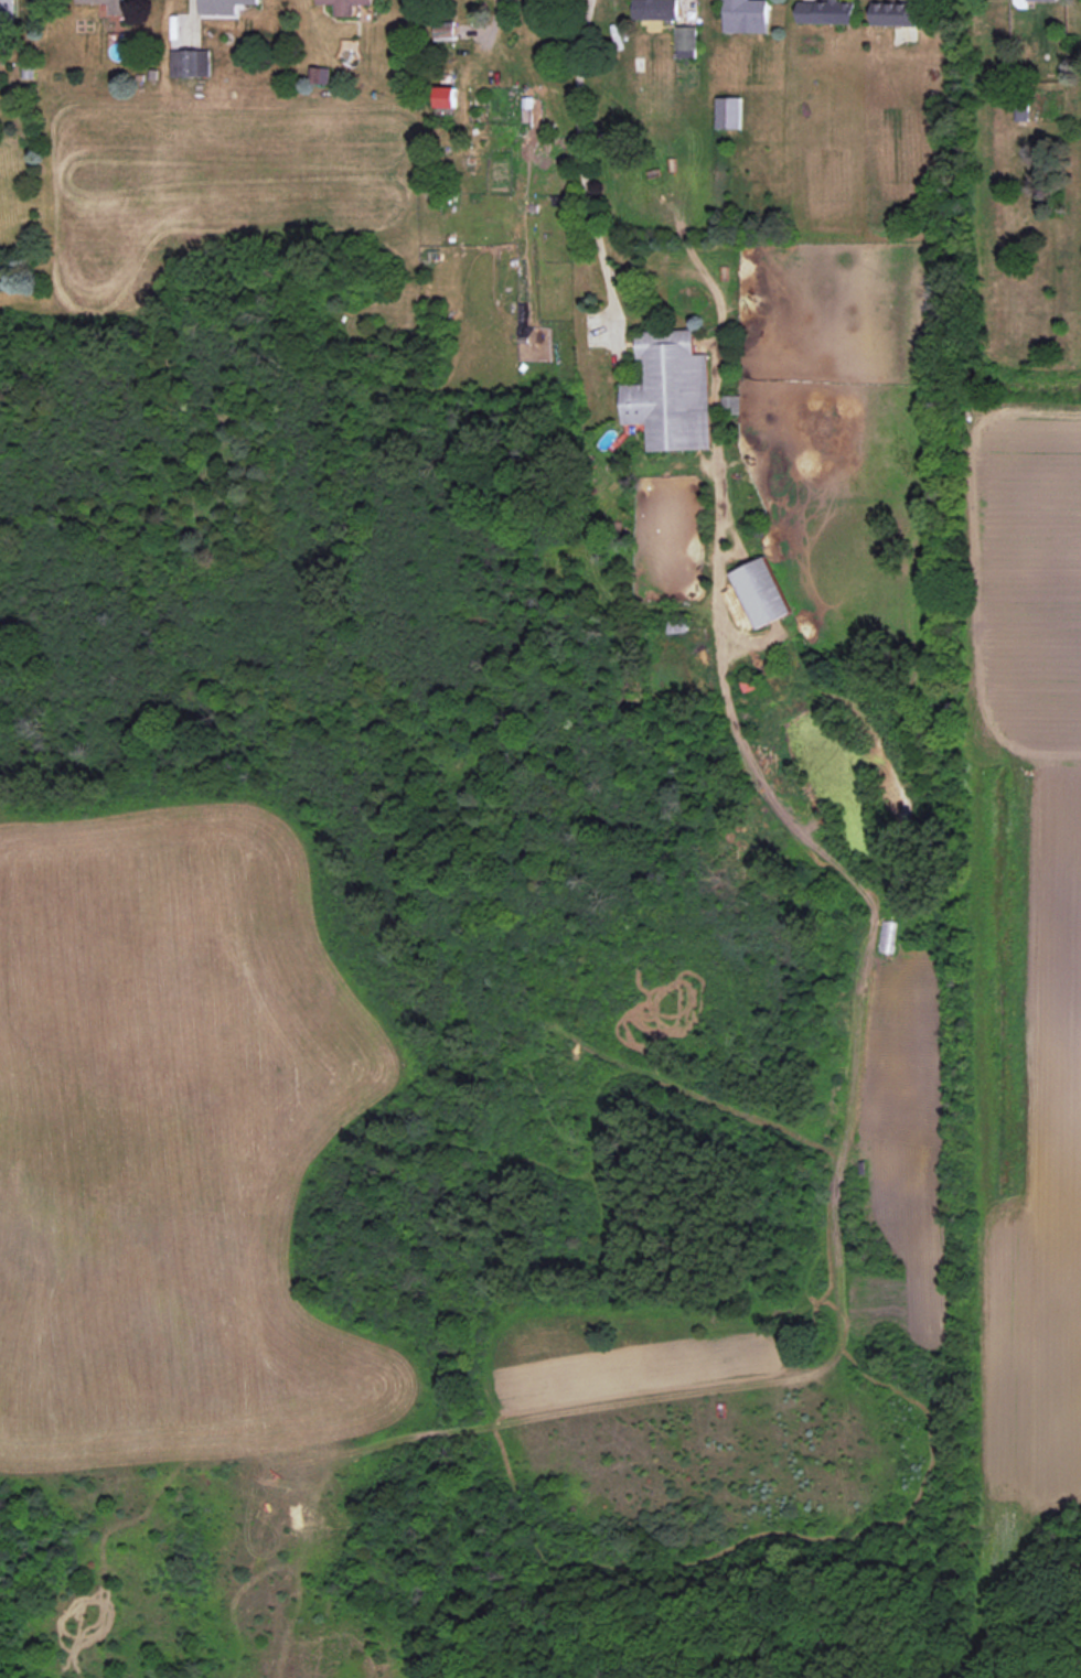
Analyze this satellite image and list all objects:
building: (1042, 0)
building: (111, 6)
building: (222, 6)
building: (344, 6)
building: (7, 9)
building: (655, 9)
building: (746, 11)
building: (826, 12)
building: (900, 14)
road: (488, 30)
building: (443, 31)
building: (686, 42)
building: (189, 63)
building: (320, 75)
building: (446, 96)
building: (728, 112)
road: (580, 174)
building: (670, 391)
building: (761, 592)

